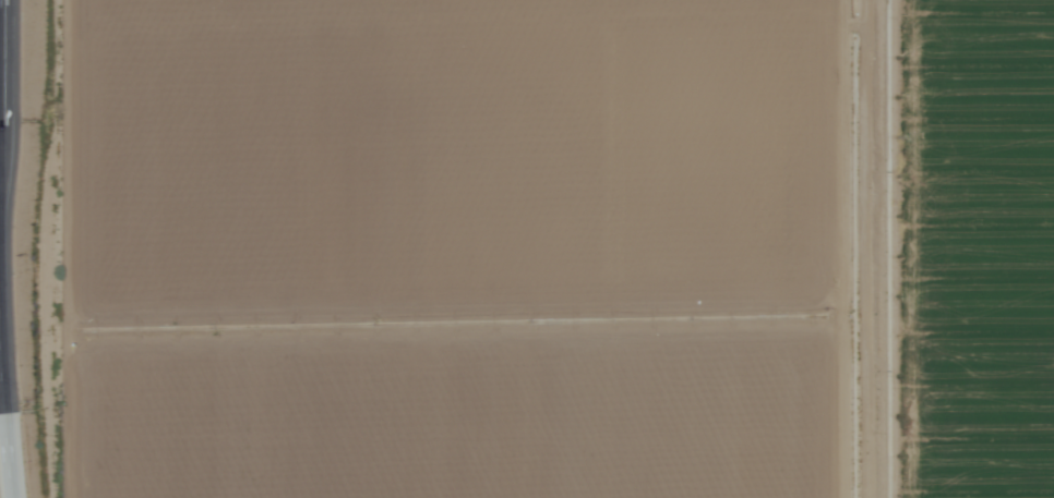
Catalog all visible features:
road: (2, 465)

